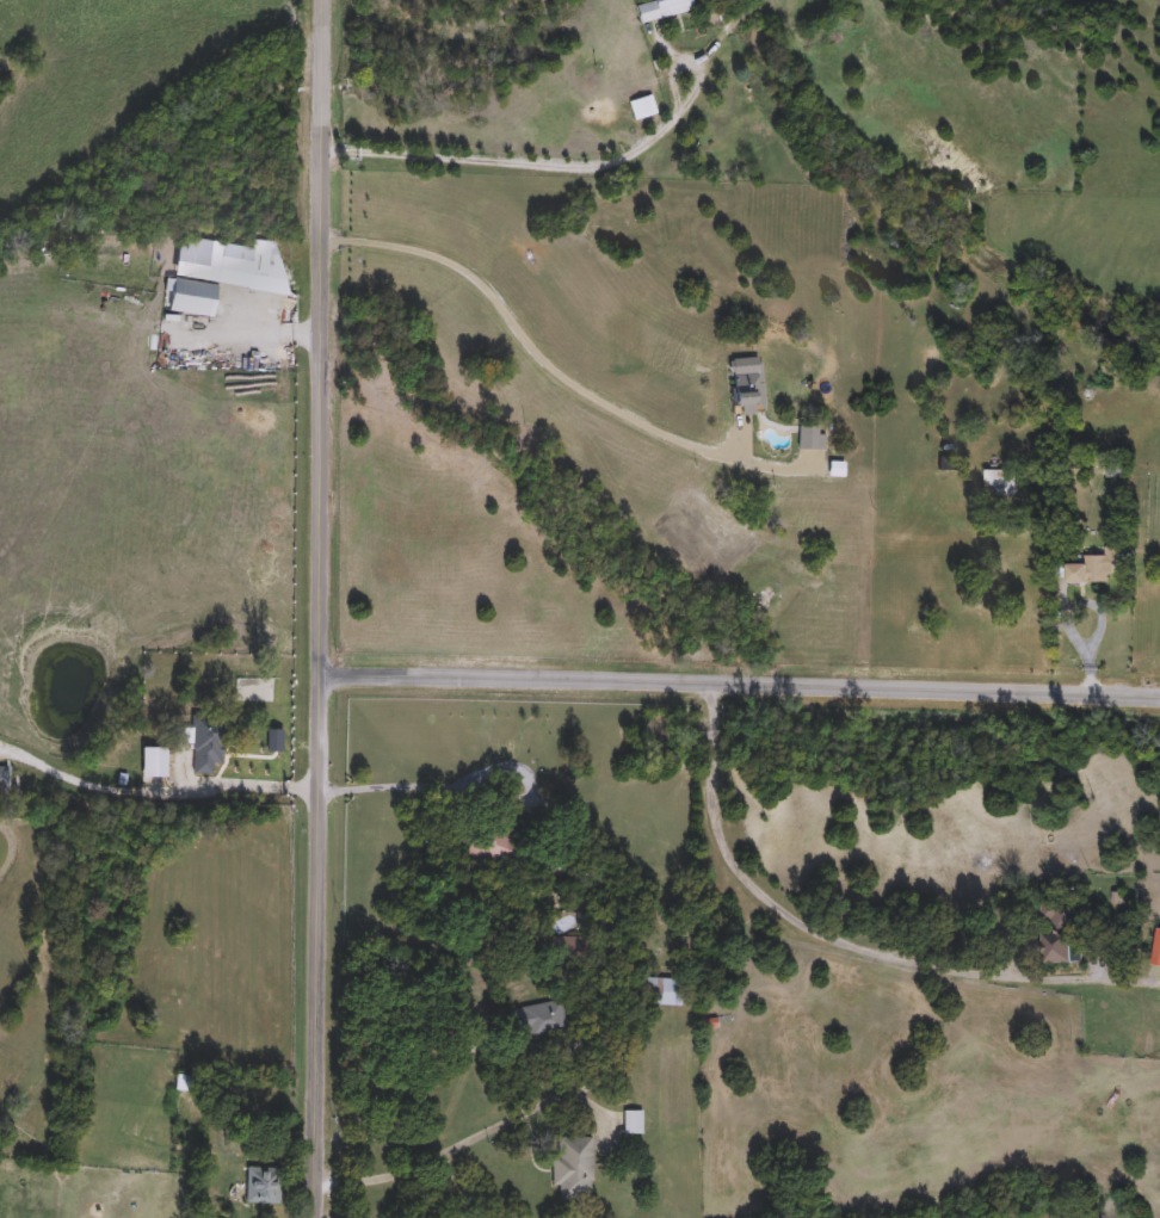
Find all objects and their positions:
building: (666, 10)
road: (730, 25)
building: (561, 31)
road: (567, 168)
building: (216, 280)
road: (543, 361)
building: (749, 385)
building: (812, 439)
building: (839, 469)
building: (999, 484)
building: (1098, 567)
building: (766, 596)
road: (315, 608)
road: (736, 688)
building: (209, 743)
building: (2, 779)
road: (247, 787)
road: (815, 932)
building: (1061, 933)
building: (666, 993)
building: (542, 1020)
building: (184, 1084)
building: (634, 1123)
road: (443, 1151)
building: (573, 1168)
building: (265, 1186)

